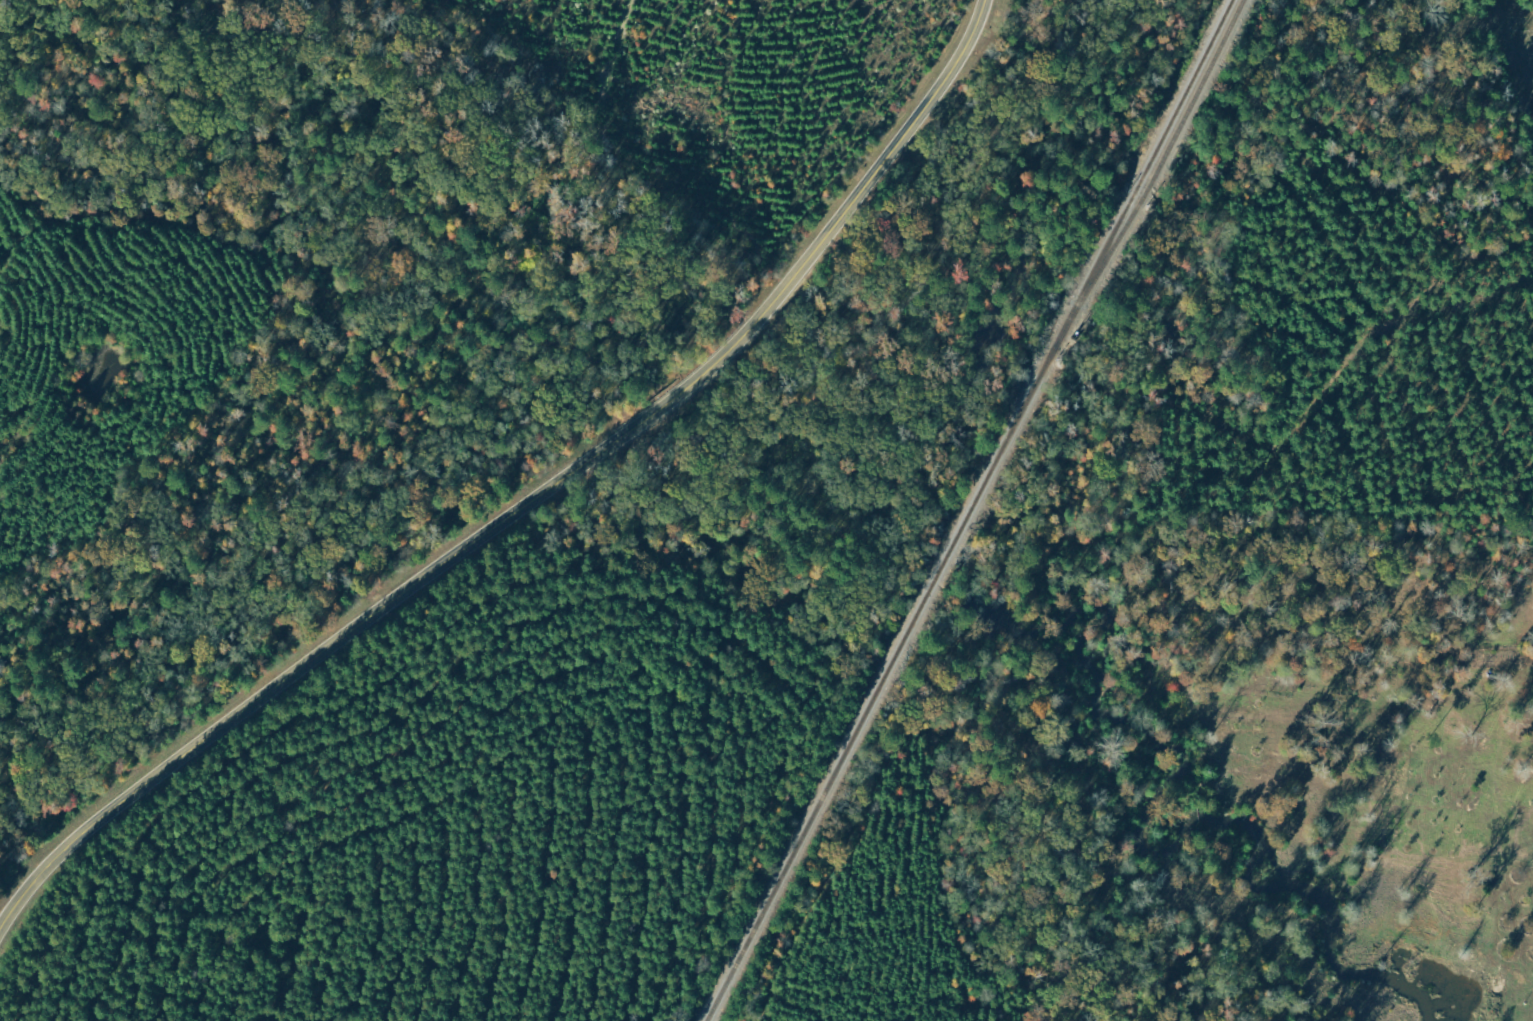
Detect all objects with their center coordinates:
railway: (1145, 179)
railway: (1154, 182)
road: (1507, 218)
road: (530, 503)
railway: (881, 689)

